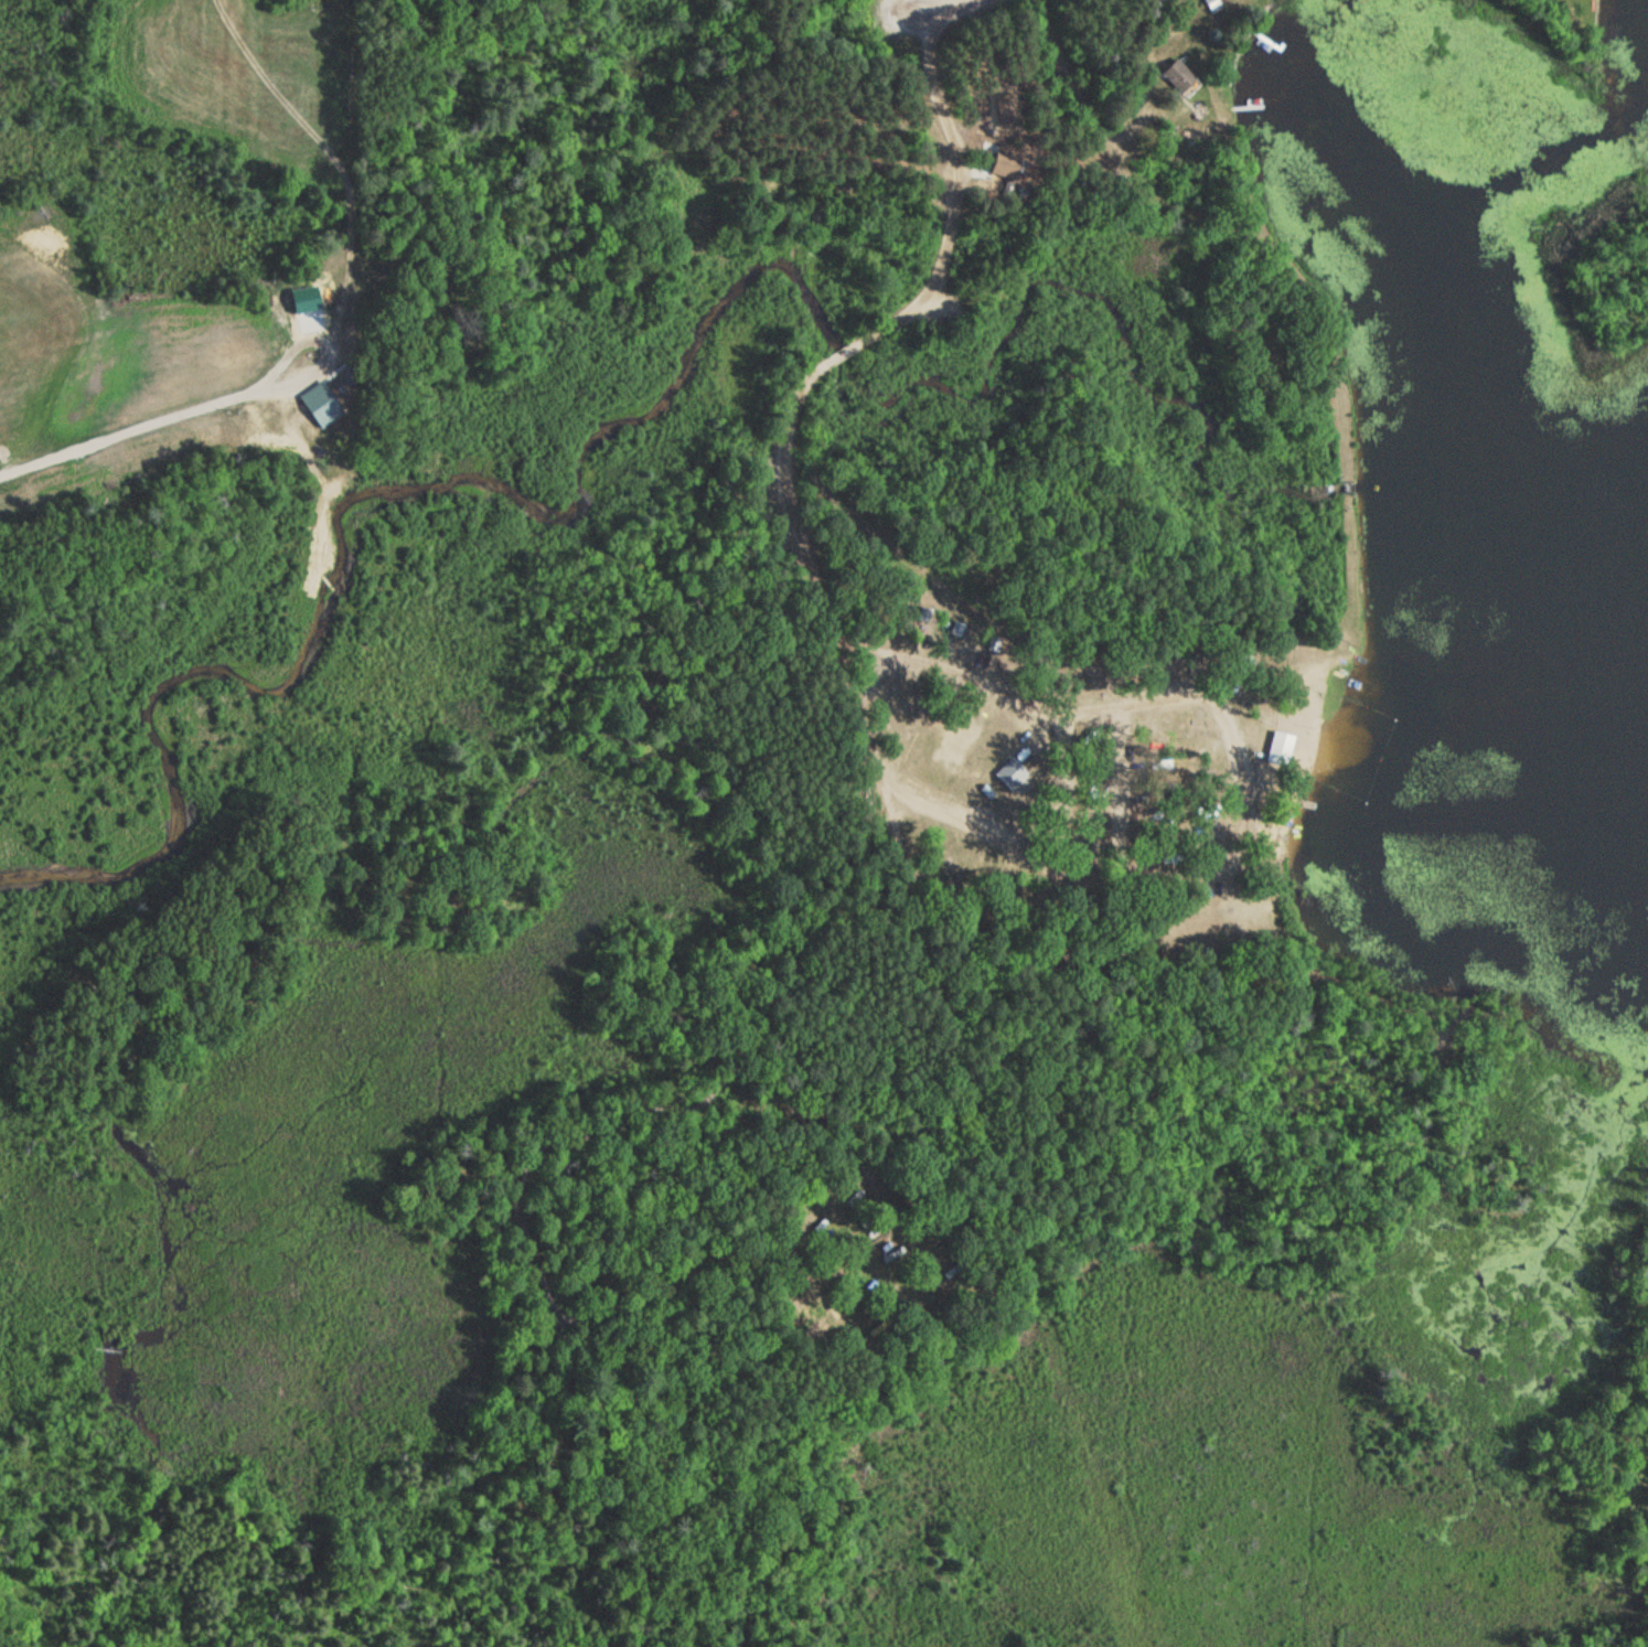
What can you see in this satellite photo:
building: (1207, 1)
road: (941, 4)
road: (1173, 50)
building: (1178, 77)
road: (785, 436)
building: (1281, 749)
road: (1187, 906)

